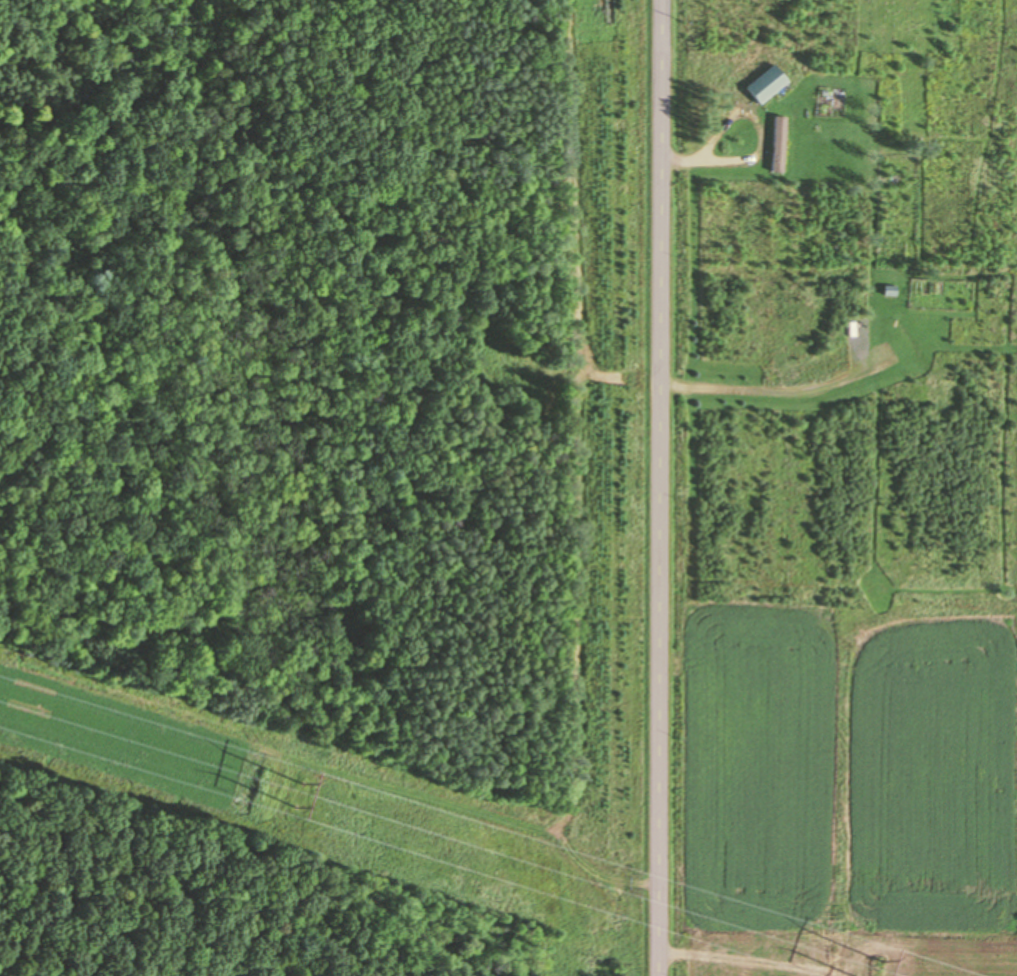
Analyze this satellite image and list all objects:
building: (761, 82)
building: (774, 142)
road: (672, 487)
power tower: (298, 794)
power tower: (877, 971)

